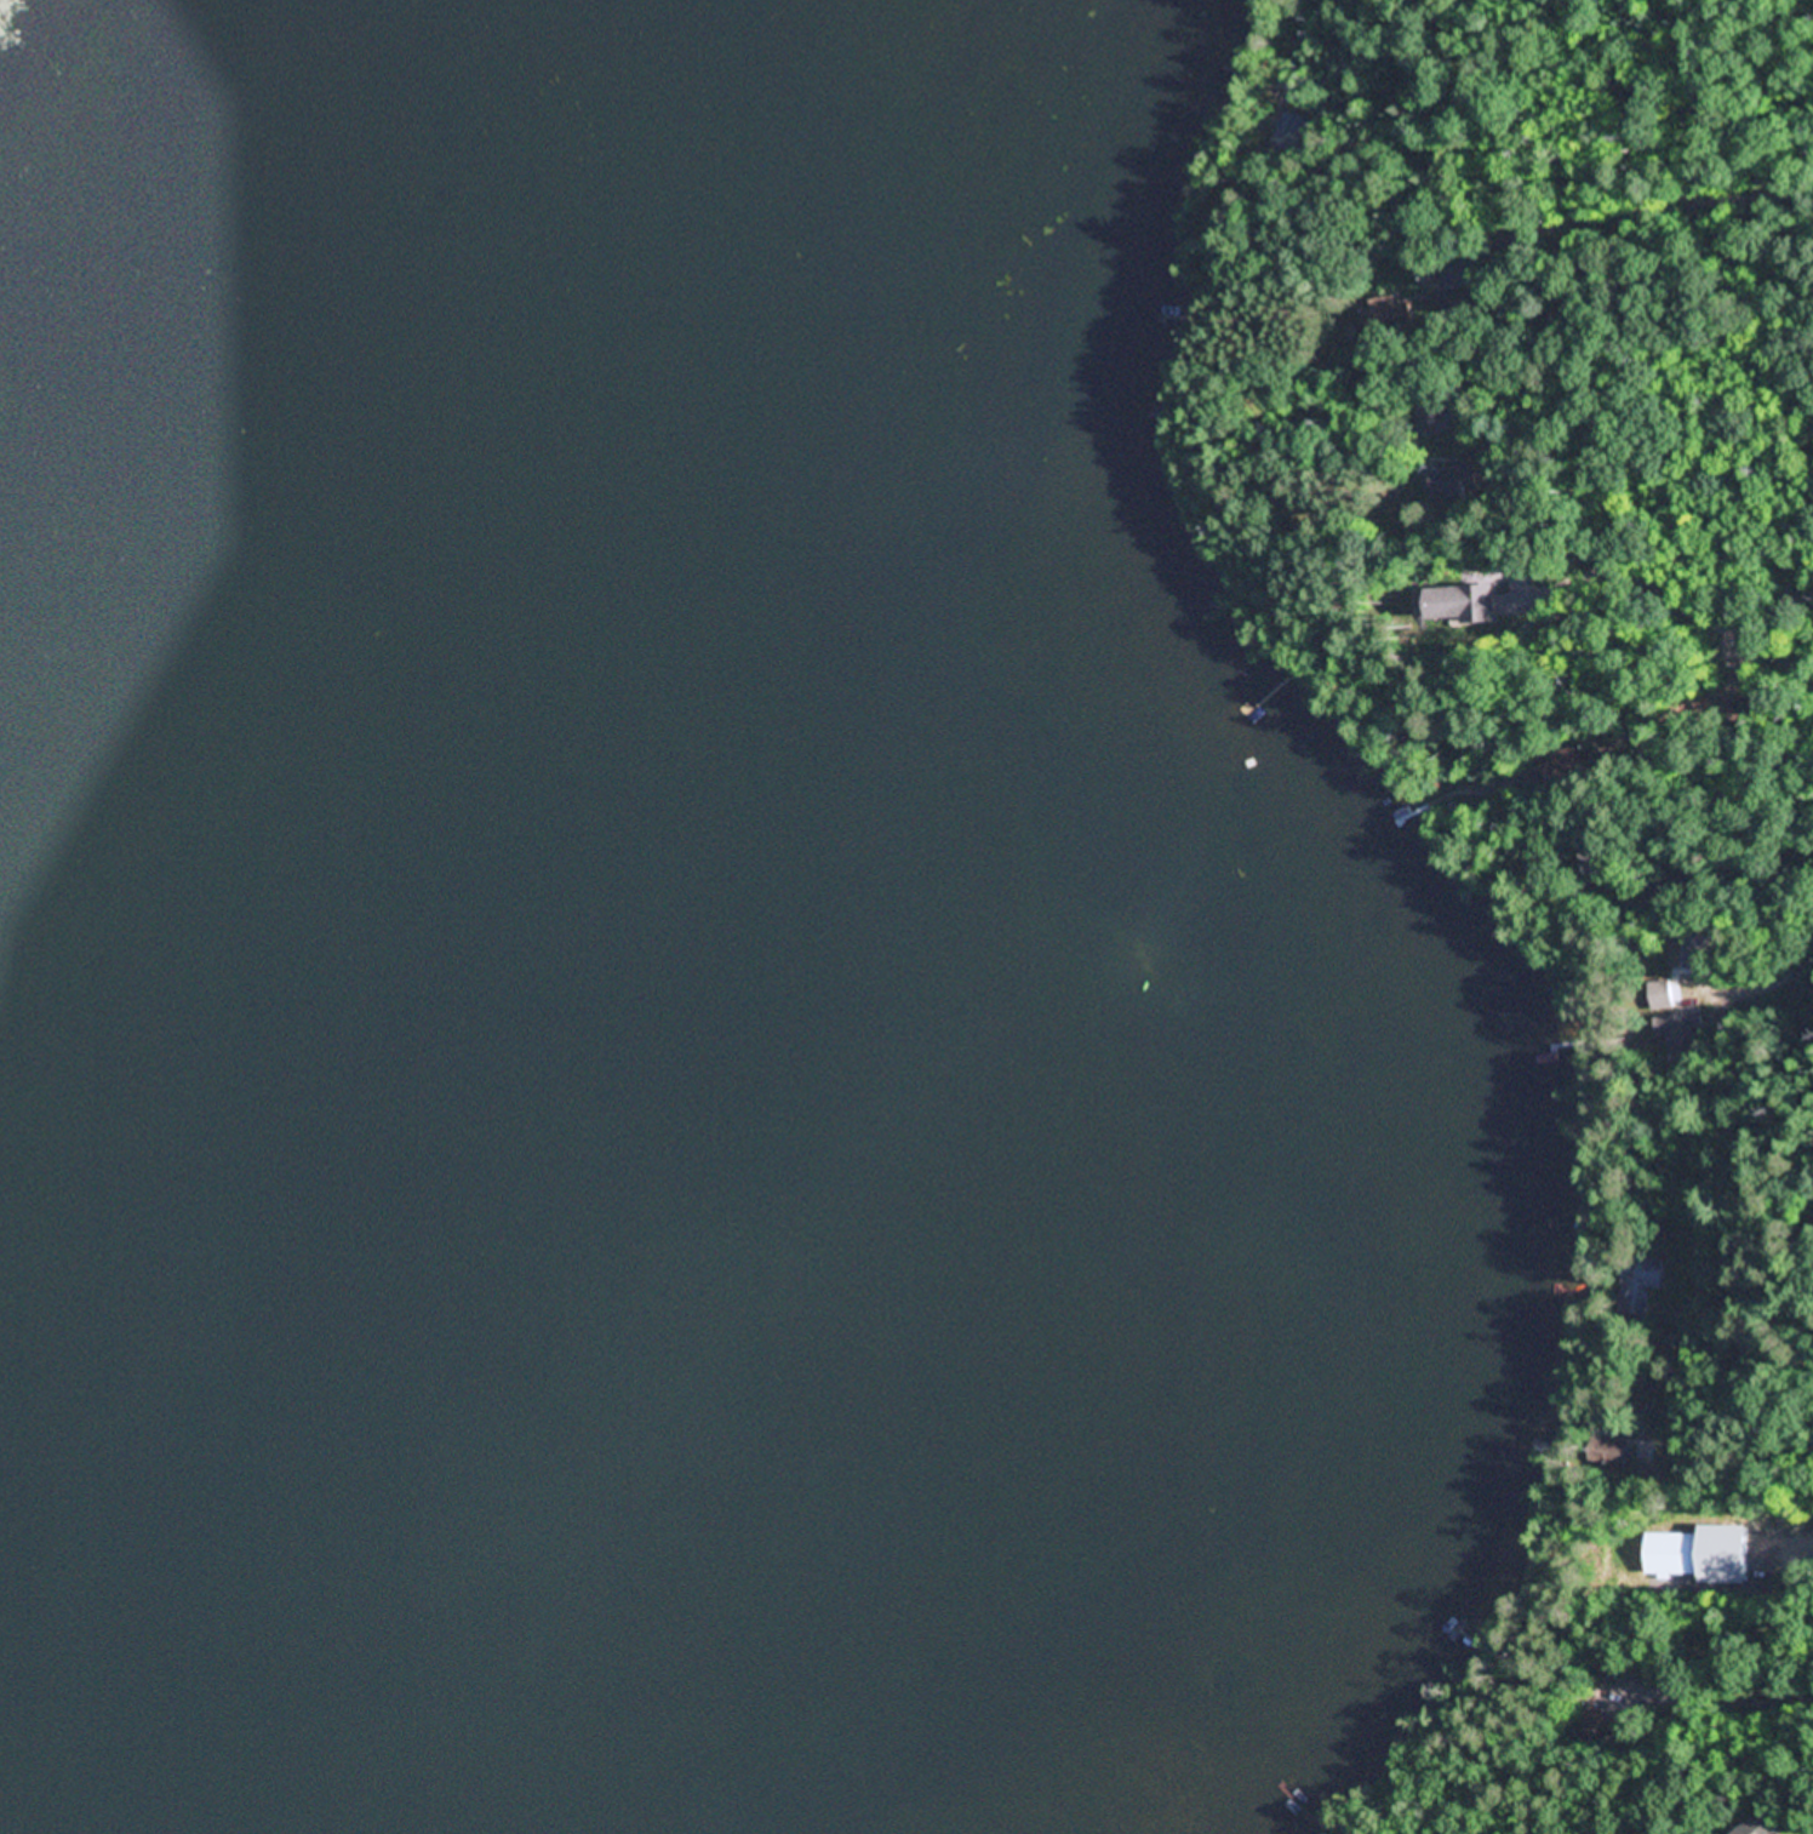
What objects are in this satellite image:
building: (1285, 133)
building: (1465, 301)
building: (1435, 416)
building: (1662, 996)
building: (1677, 1034)
building: (1638, 1284)
building: (1612, 1452)
road: (1773, 1466)
building: (1595, 1722)
building: (1761, 1826)

